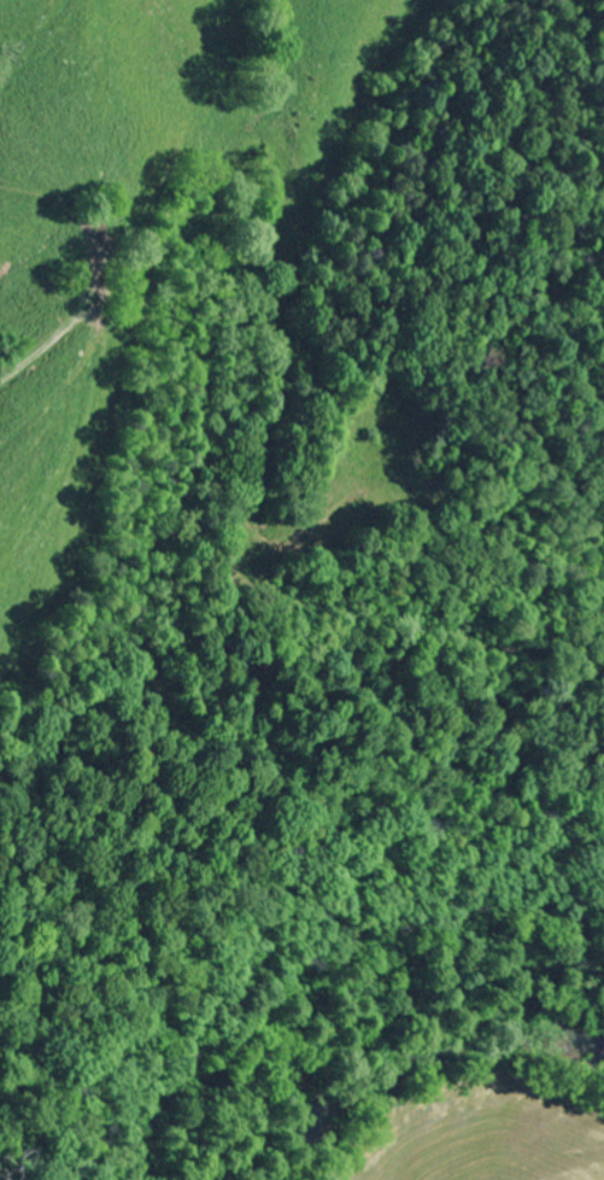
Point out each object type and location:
river: (427, 1057)

